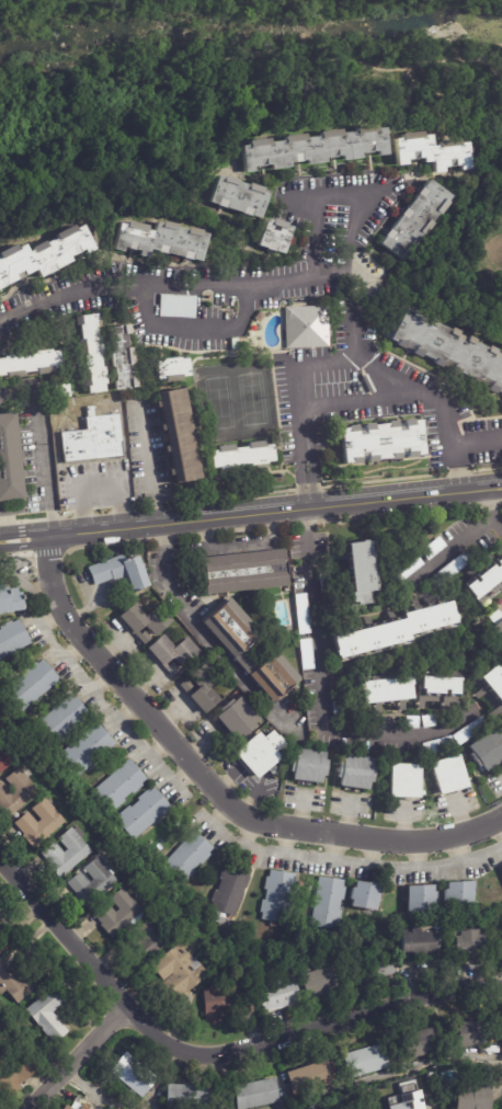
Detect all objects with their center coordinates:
road: (435, 61)
park: (244, 101)
building: (313, 148)
building: (429, 151)
road: (338, 194)
building: (239, 196)
building: (415, 217)
building: (275, 237)
building: (158, 239)
building: (44, 254)
road: (310, 278)
building: (174, 307)
building: (307, 323)
road: (196, 327)
building: (236, 344)
building: (447, 352)
building: (87, 355)
building: (115, 359)
building: (25, 365)
building: (171, 367)
building: (58, 391)
park: (252, 398)
park: (219, 402)
road: (361, 402)
road: (299, 404)
building: (179, 432)
building: (93, 441)
building: (380, 442)
road: (477, 442)
road: (41, 448)
building: (239, 457)
building: (9, 461)
road: (148, 465)
road: (489, 511)
road: (251, 513)
road: (212, 549)
building: (429, 549)
road: (449, 550)
building: (452, 565)
building: (404, 569)
building: (242, 572)
building: (118, 573)
building: (353, 573)
building: (486, 584)
building: (9, 596)
building: (300, 615)
building: (146, 622)
building: (497, 626)
building: (392, 632)
building: (12, 636)
road: (205, 639)
building: (247, 650)
building: (172, 654)
building: (305, 655)
building: (31, 685)
building: (201, 687)
building: (437, 689)
building: (387, 693)
building: (488, 693)
road: (320, 694)
building: (231, 719)
building: (61, 721)
building: (425, 721)
building: (501, 722)
building: (410, 723)
building: (469, 729)
building: (440, 742)
building: (88, 750)
building: (487, 751)
building: (256, 753)
building: (2, 763)
building: (307, 767)
building: (354, 774)
building: (449, 776)
building: (404, 782)
building: (119, 786)
road: (208, 790)
building: (13, 792)
building: (142, 814)
building: (36, 824)
building: (64, 853)
building: (187, 858)
building: (89, 883)
building: (230, 889)
building: (460, 895)
building: (365, 896)
building: (277, 898)
building: (424, 899)
building: (329, 904)
building: (114, 914)
building: (1, 915)
building: (220, 922)
building: (144, 944)
building: (418, 945)
building: (465, 947)
building: (0, 952)
building: (174, 973)
building: (363, 975)
building: (23, 980)
building: (319, 983)
building: (274, 997)
building: (219, 1005)
building: (48, 1013)
building: (468, 1037)
building: (410, 1048)
road: (216, 1055)
road: (79, 1059)
building: (362, 1063)
building: (14, 1077)
building: (129, 1077)
building: (308, 1082)
road: (84, 1087)
building: (255, 1096)
building: (409, 1097)
building: (183, 1098)
building: (474, 1098)
building: (78, 1104)
building: (61, 1108)

